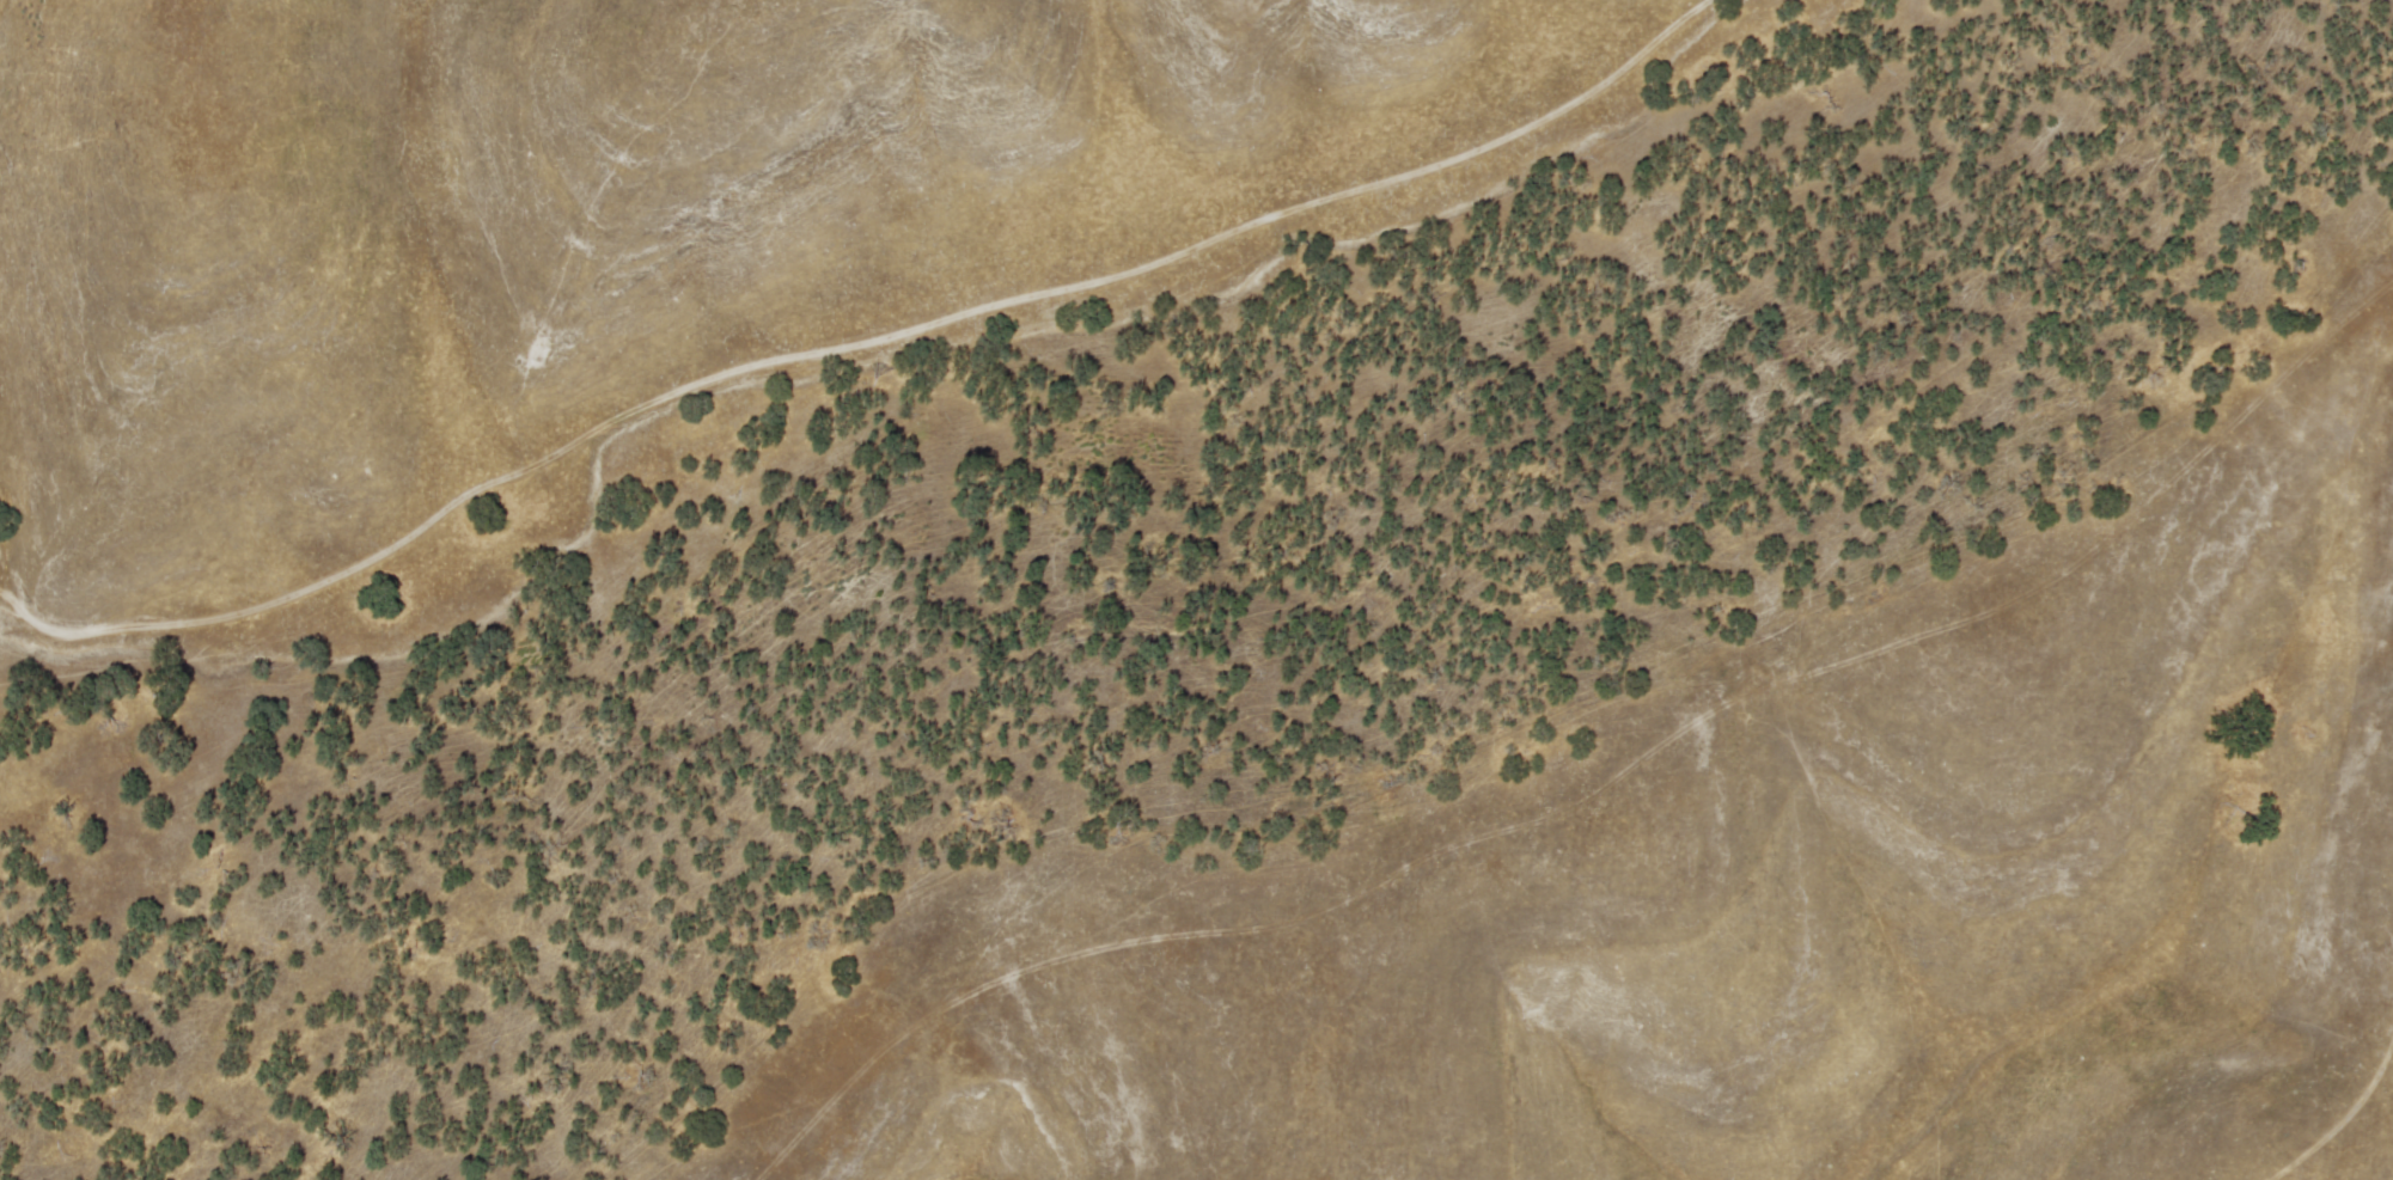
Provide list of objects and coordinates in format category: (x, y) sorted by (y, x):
road: (849, 344)

